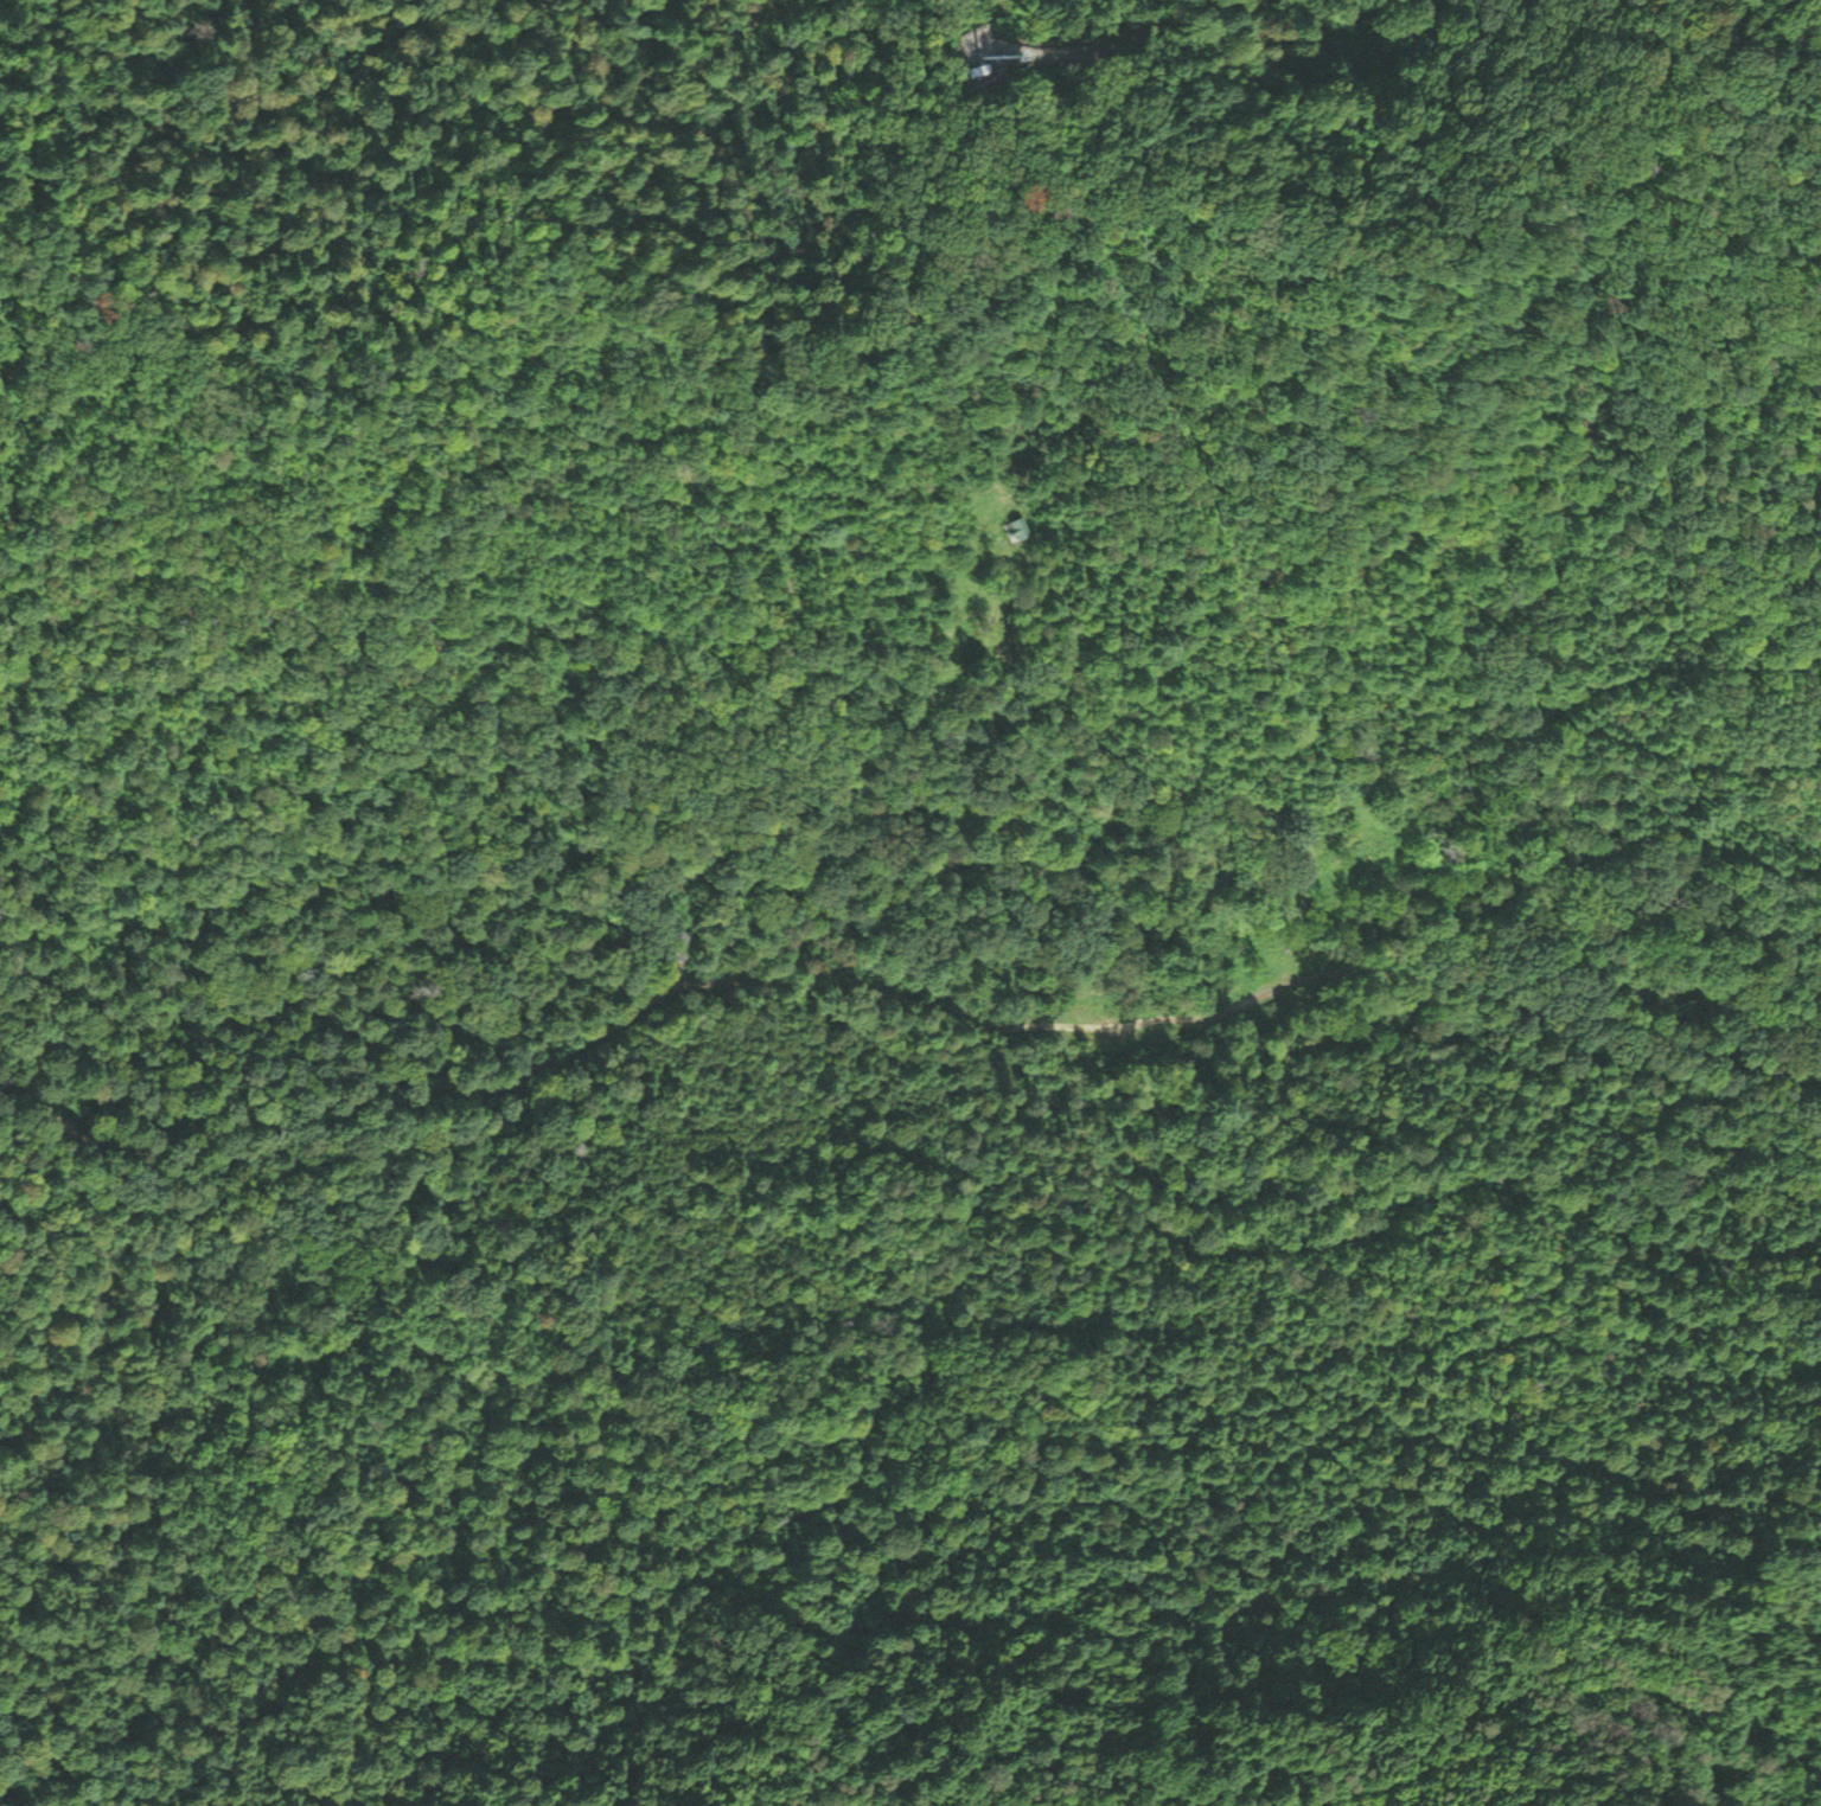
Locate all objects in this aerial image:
road: (1362, 73)

